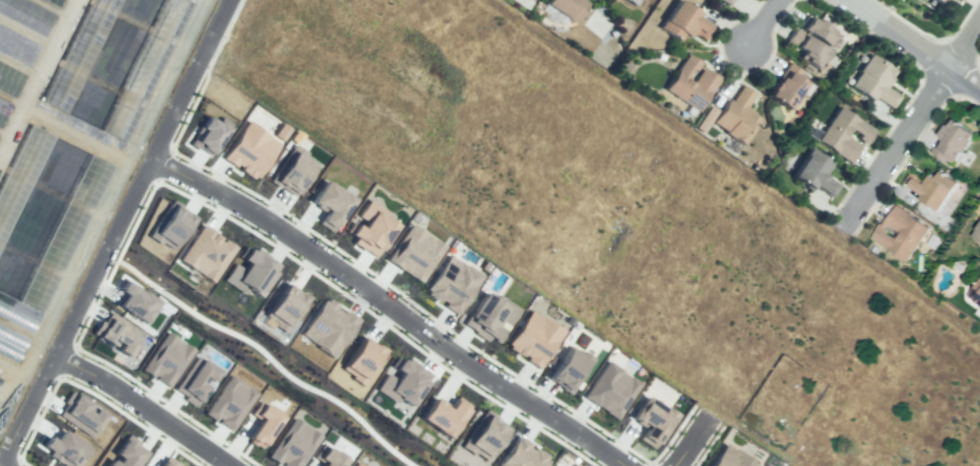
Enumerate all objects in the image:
building: (531, 0)
building: (958, 0)
building: (632, 1)
building: (728, 1)
building: (735, 1)
building: (940, 1)
building: (568, 6)
road: (763, 21)
building: (688, 23)
building: (819, 30)
road: (914, 44)
building: (807, 45)
building: (79, 53)
building: (145, 70)
road: (36, 74)
building: (874, 79)
building: (679, 84)
building: (790, 87)
building: (737, 113)
road: (914, 121)
building: (844, 133)
building: (208, 135)
building: (955, 140)
building: (249, 150)
building: (292, 173)
building: (817, 174)
building: (22, 176)
building: (928, 188)
building: (329, 204)
building: (169, 225)
building: (66, 230)
road: (114, 230)
building: (369, 233)
building: (901, 233)
building: (978, 235)
building: (205, 252)
building: (414, 252)
building: (254, 271)
building: (451, 284)
building: (976, 290)
building: (136, 300)
building: (285, 306)
road: (389, 308)
building: (491, 315)
building: (328, 326)
building: (115, 332)
building: (533, 338)
road: (268, 358)
building: (166, 359)
building: (362, 359)
building: (569, 370)
building: (195, 380)
building: (403, 382)
building: (609, 390)
building: (229, 402)
road: (141, 410)
building: (80, 414)
building: (443, 415)
building: (651, 420)
building: (262, 424)
building: (483, 435)
road: (690, 441)
building: (292, 444)
building: (64, 449)
building: (127, 453)
building: (522, 455)
building: (329, 458)
building: (729, 458)
building: (167, 462)
road: (3, 464)
building: (356, 464)
building: (573, 465)

